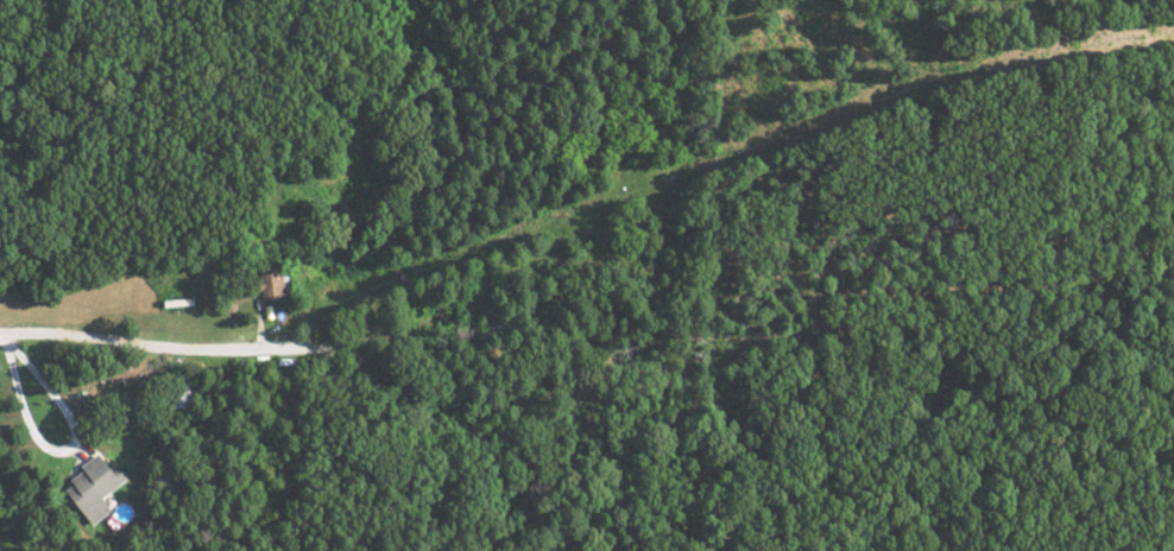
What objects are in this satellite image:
building: (264, 280)
road: (158, 351)
road: (56, 456)
building: (87, 488)

